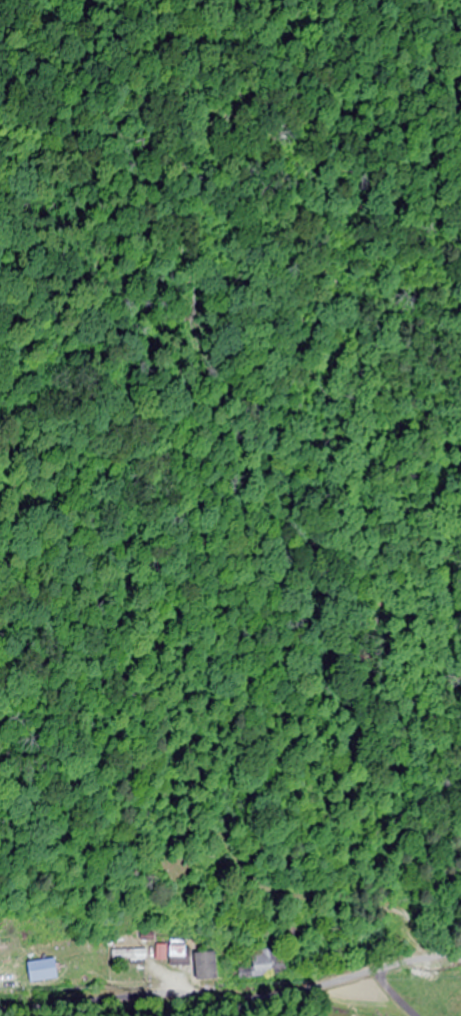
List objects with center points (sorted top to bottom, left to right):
building: (172, 953)
building: (129, 958)
building: (263, 963)
building: (205, 967)
building: (43, 971)
road: (232, 999)

